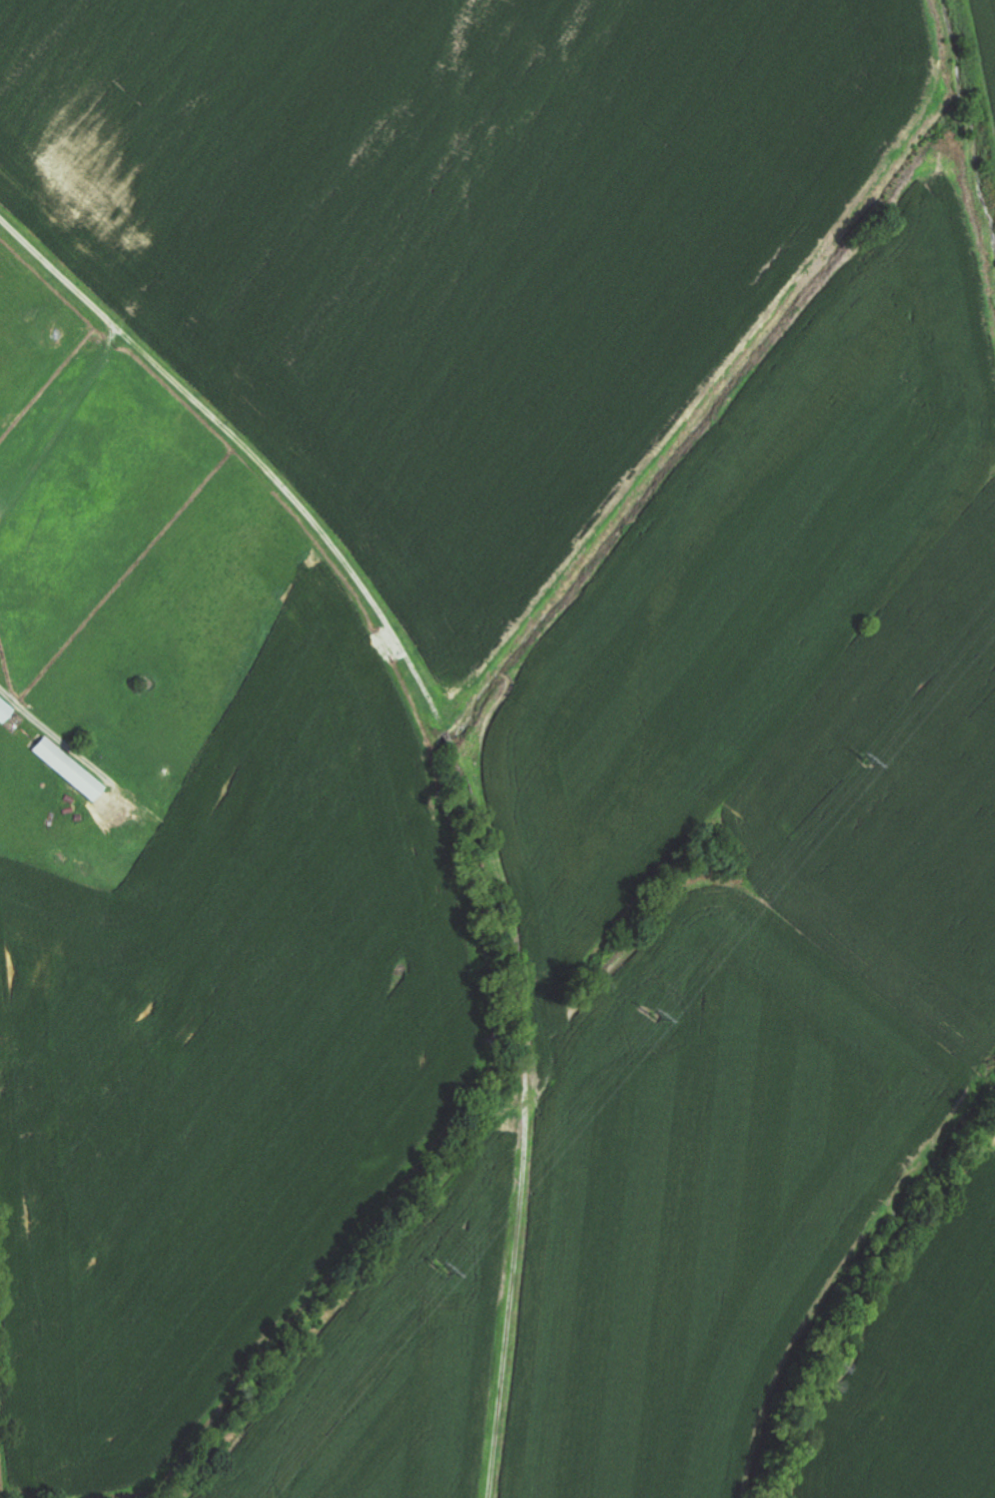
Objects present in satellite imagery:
building: (4, 710)
road: (48, 739)
building: (66, 768)

